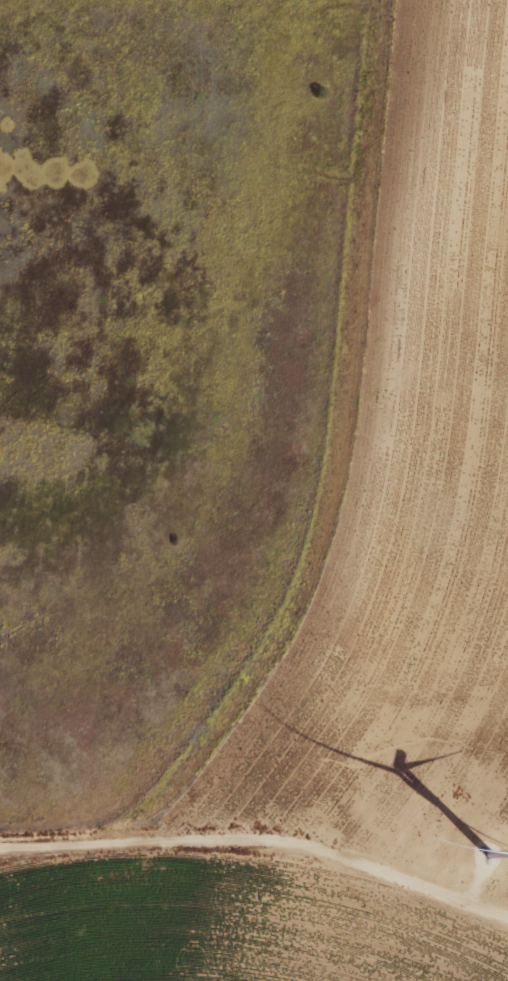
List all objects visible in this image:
wind turbine: (488, 858)

